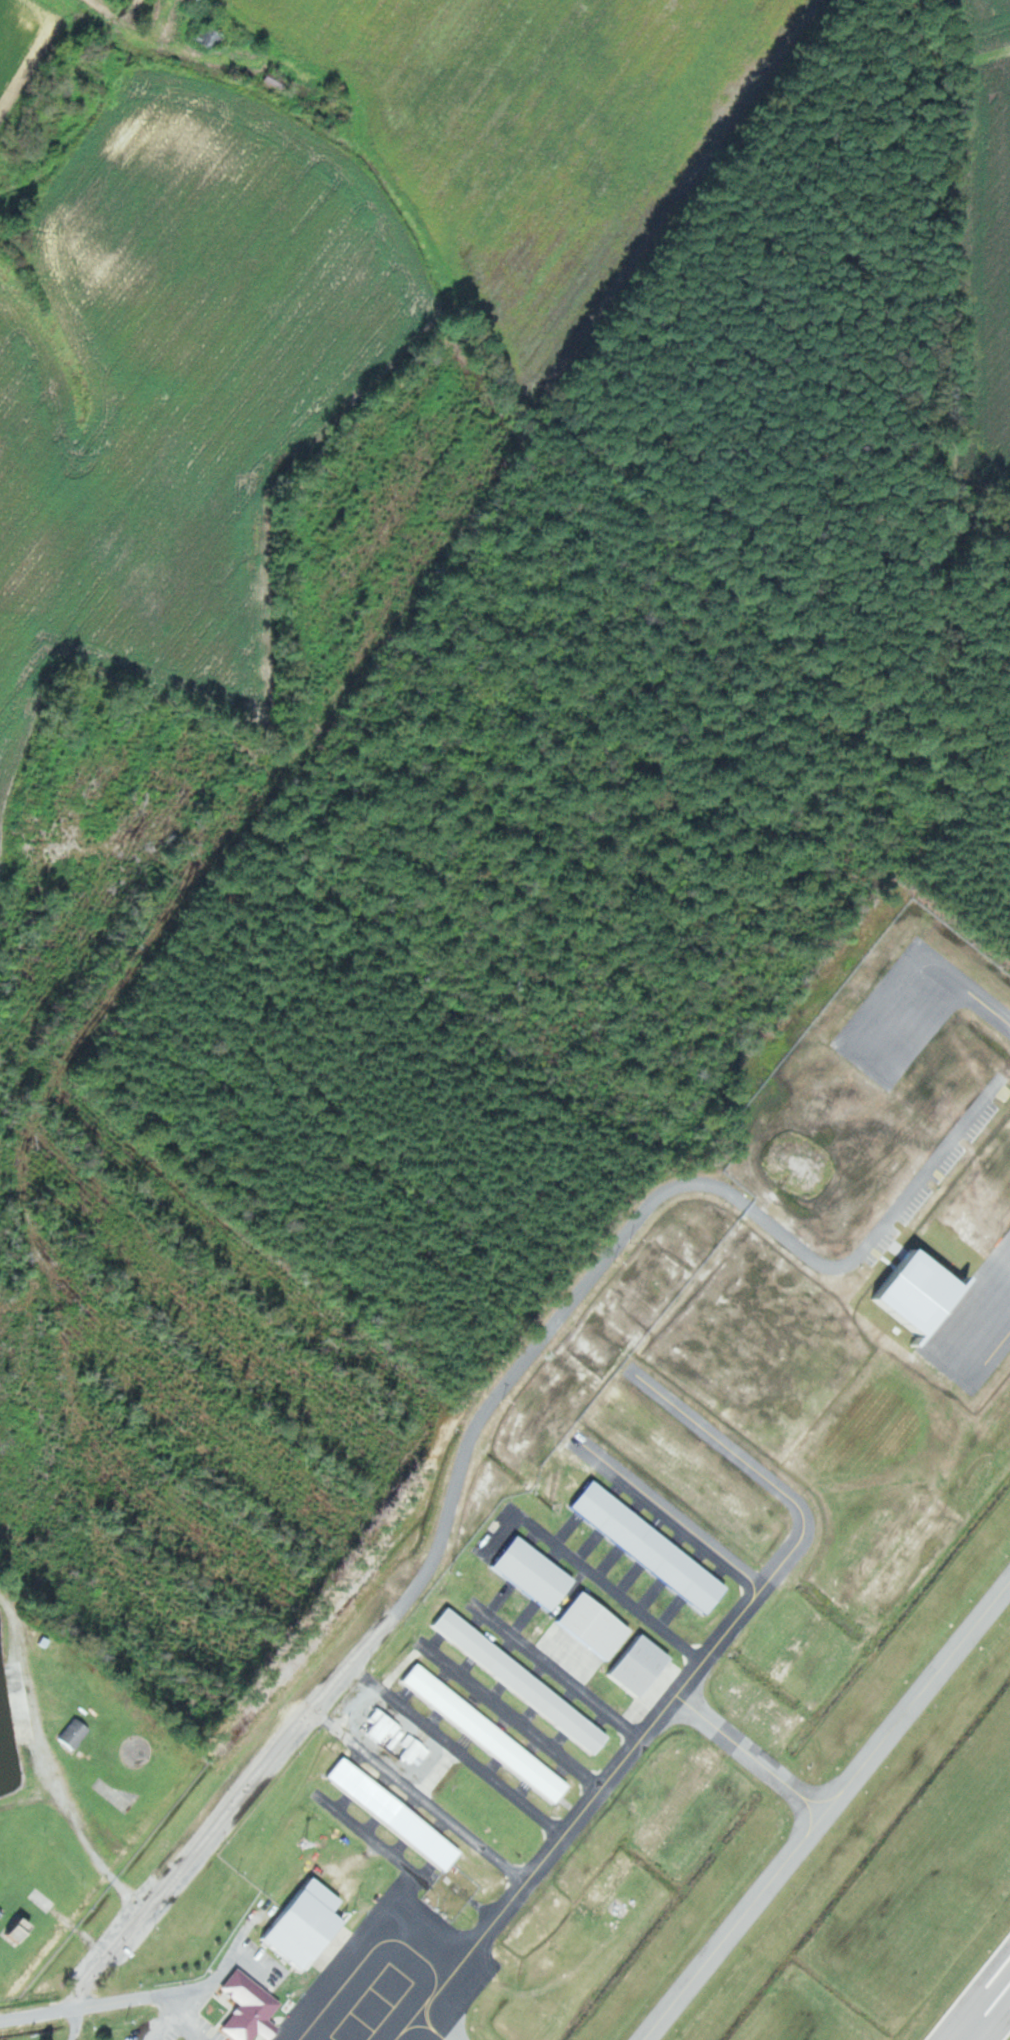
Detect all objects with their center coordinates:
building: (210, 36)
building: (278, 80)
building: (652, 1546)
building: (536, 1573)
airport taxiway: (612, 1589)
building: (597, 1625)
building: (642, 1665)
airport taxiway: (556, 1670)
building: (523, 1680)
airport taxiway: (510, 1714)
building: (388, 1729)
building: (77, 1733)
building: (488, 1733)
building: (413, 1749)
airport taxiway: (751, 1754)
airport taxiway: (624, 1761)
airport taxiway: (476, 1764)
airport: (626, 1806)
airport taxiway: (827, 1811)
airport taxiway: (439, 1812)
building: (397, 1813)
road: (208, 1837)
building: (42, 1899)
airport hangar: (305, 1925)
building: (305, 1925)
building: (21, 1929)
airport apron: (394, 1977)
road: (140, 1998)
airport terminal: (251, 2006)
building: (251, 2006)
airport runway: (989, 2014)

